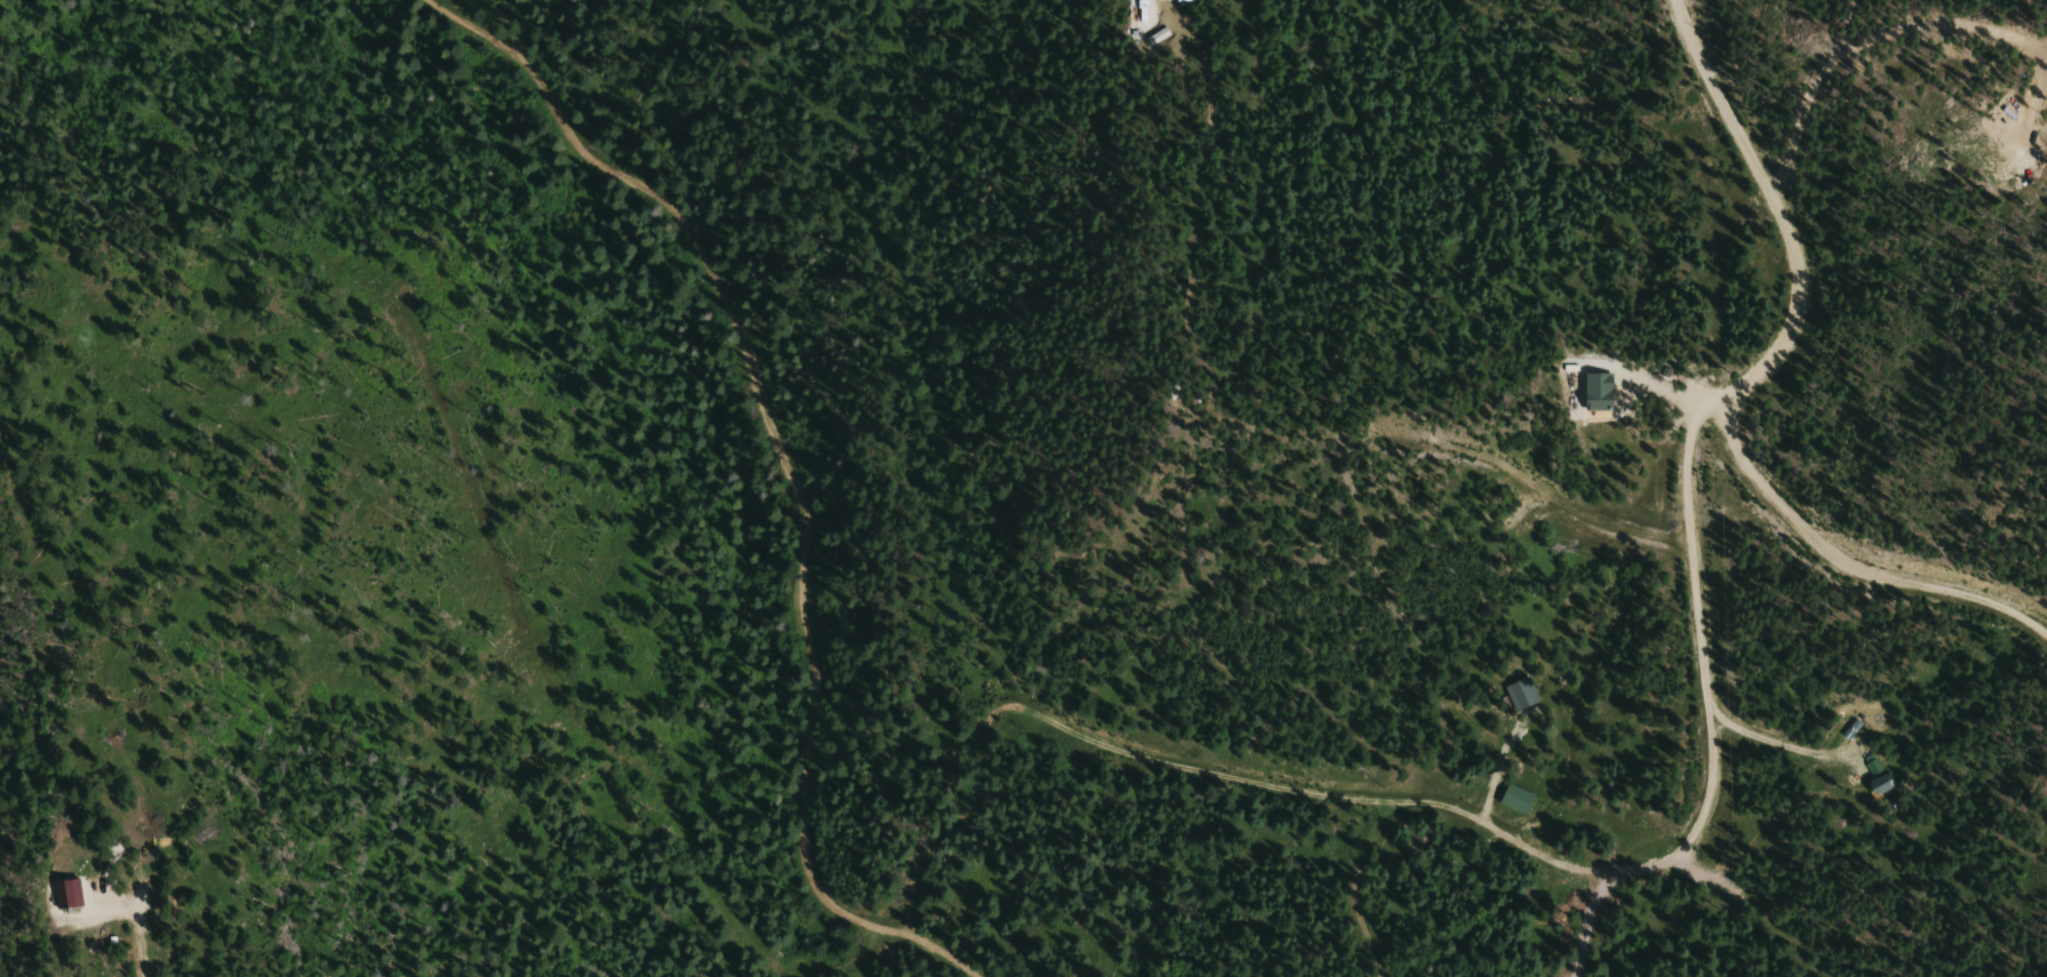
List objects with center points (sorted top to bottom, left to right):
road: (800, 466)
building: (1519, 694)
building: (1870, 763)

